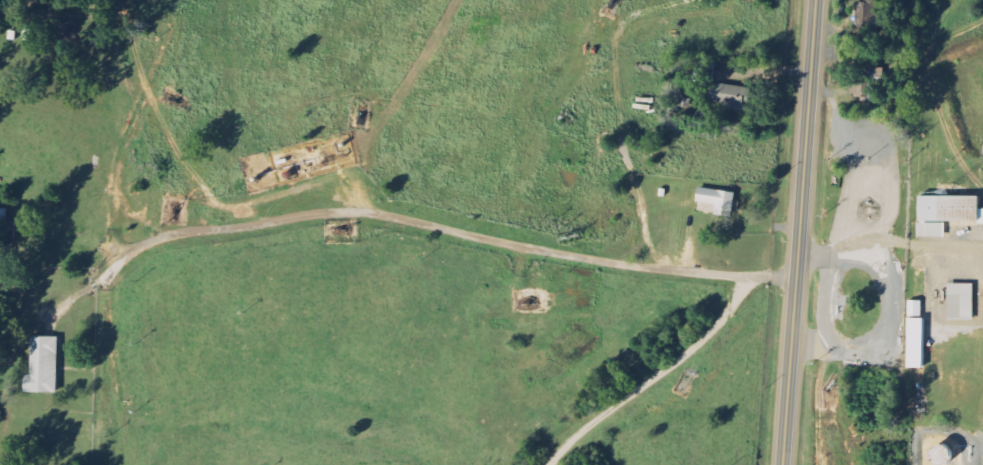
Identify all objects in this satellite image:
road: (139, 65)
building: (875, 83)
road: (933, 96)
building: (733, 97)
road: (169, 137)
road: (117, 179)
building: (718, 201)
building: (947, 214)
building: (3, 217)
road: (437, 228)
road: (798, 232)
road: (943, 247)
road: (851, 248)
road: (981, 250)
road: (827, 302)
building: (961, 302)
road: (885, 337)
building: (917, 337)
building: (44, 366)
road: (657, 377)
building: (942, 455)

